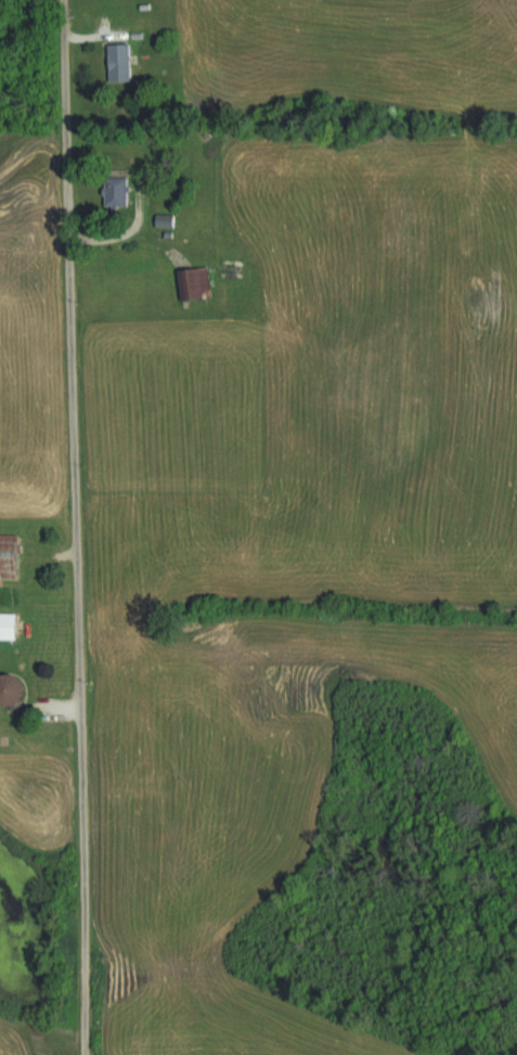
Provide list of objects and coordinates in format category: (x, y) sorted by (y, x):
building: (121, 61)
building: (118, 191)
building: (232, 272)
building: (193, 282)
road: (77, 527)
building: (11, 554)
building: (11, 625)
building: (17, 689)

